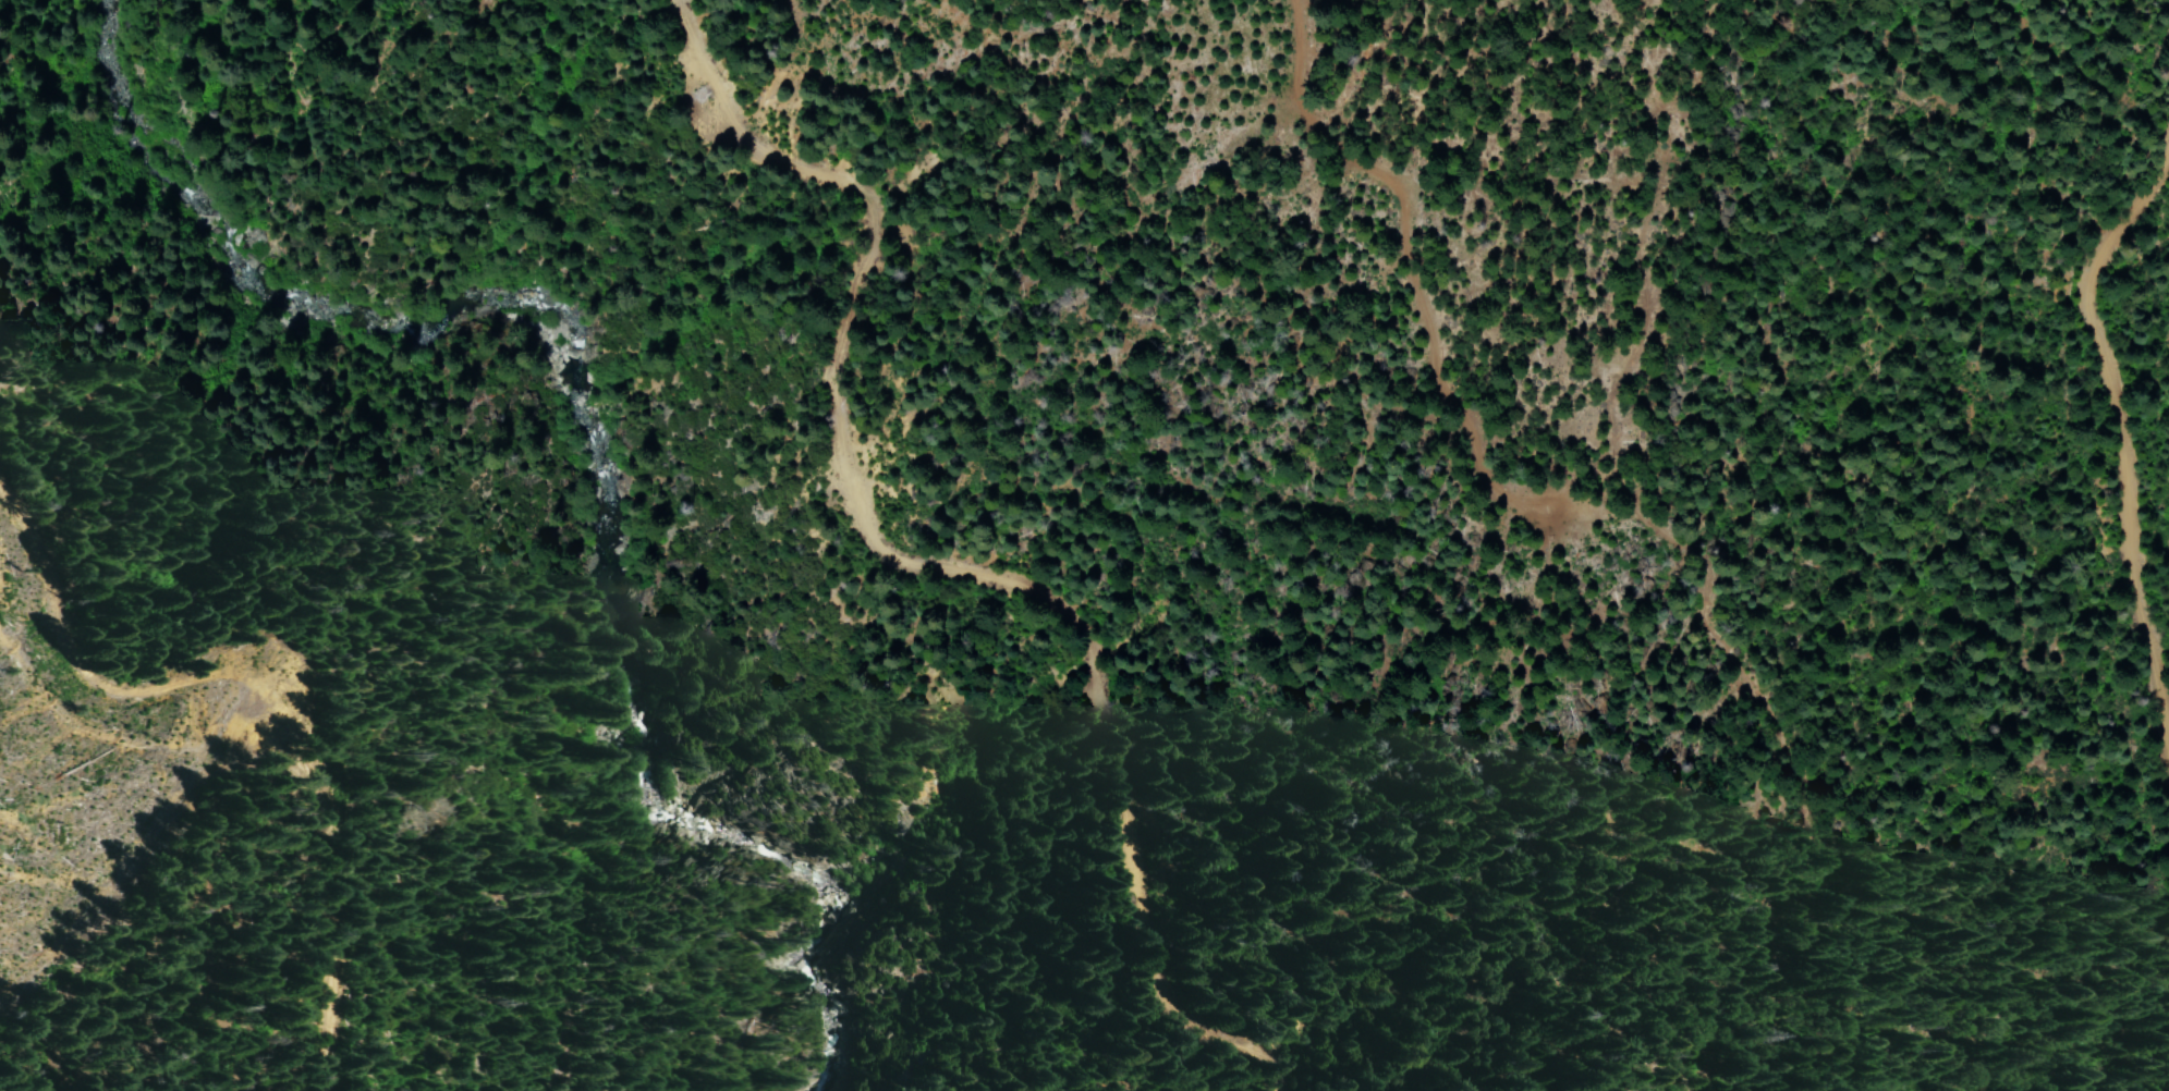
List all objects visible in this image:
road: (2074, 428)

